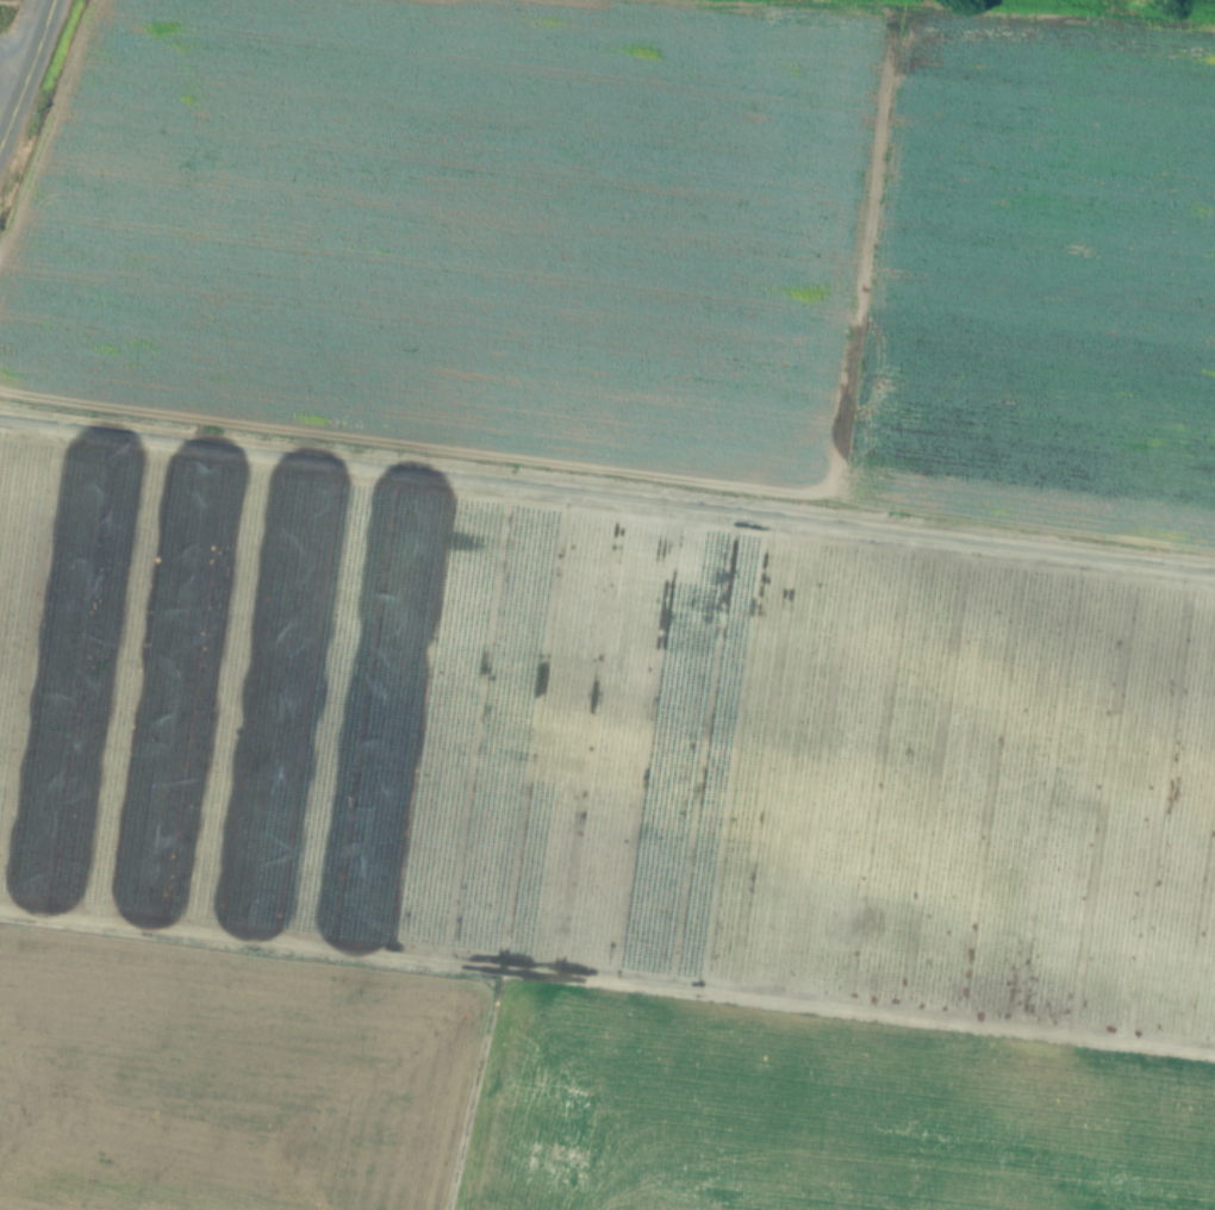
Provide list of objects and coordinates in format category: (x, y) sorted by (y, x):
crop: (6, 18)
road: (27, 71)
road: (5, 113)
road: (606, 495)
crop: (611, 607)

